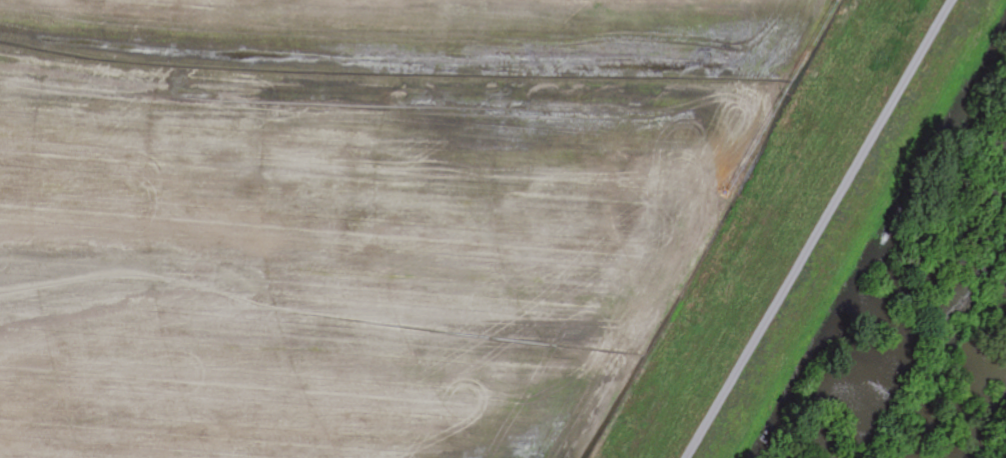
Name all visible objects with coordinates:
road: (820, 229)

